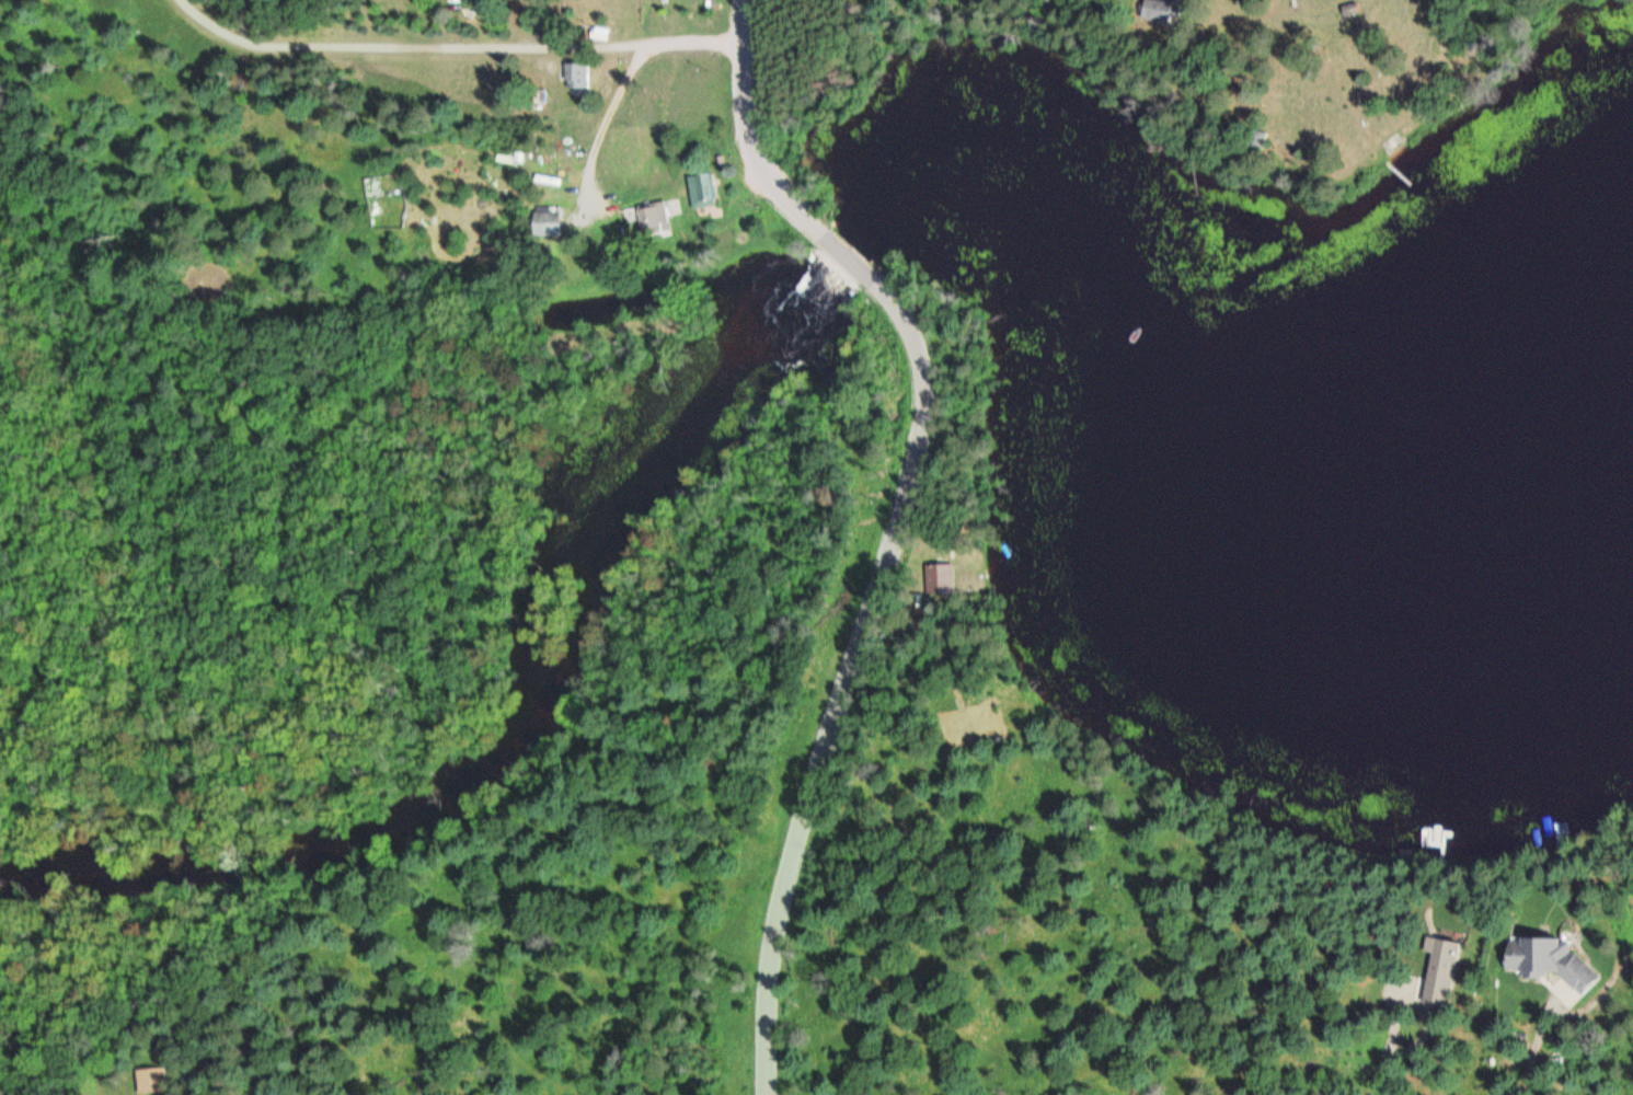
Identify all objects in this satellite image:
building: (455, 0)
building: (1161, 11)
road: (463, 41)
road: (601, 123)
building: (701, 189)
building: (651, 218)
building: (545, 222)
river: (843, 242)
road: (896, 523)
building: (938, 578)
river: (517, 708)
building: (1550, 957)
building: (1438, 970)
building: (149, 1080)

